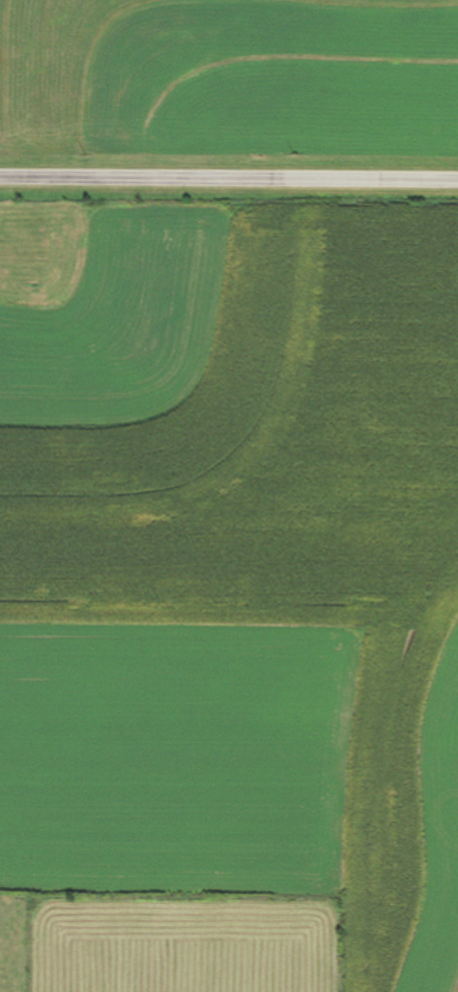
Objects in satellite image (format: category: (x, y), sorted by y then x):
road: (229, 174)

